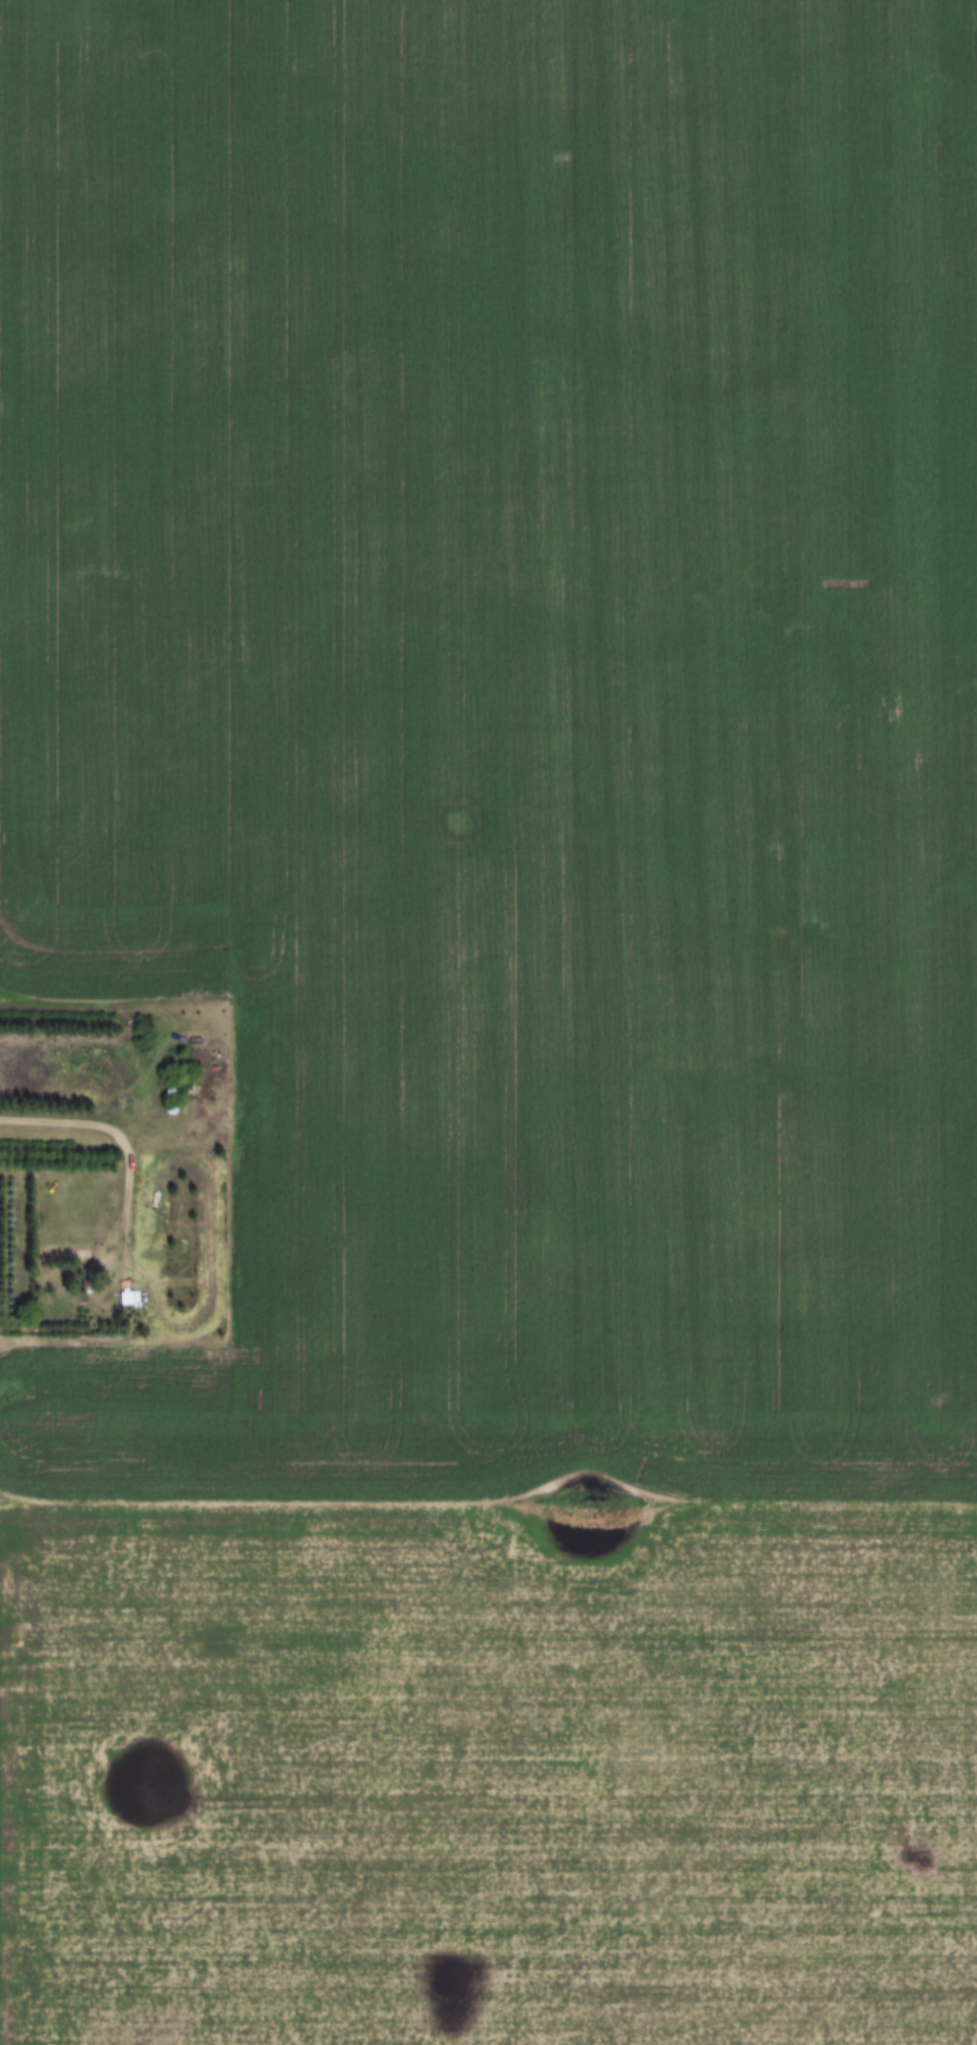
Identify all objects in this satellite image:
road: (83, 1126)
building: (183, 1244)
building: (71, 1255)

